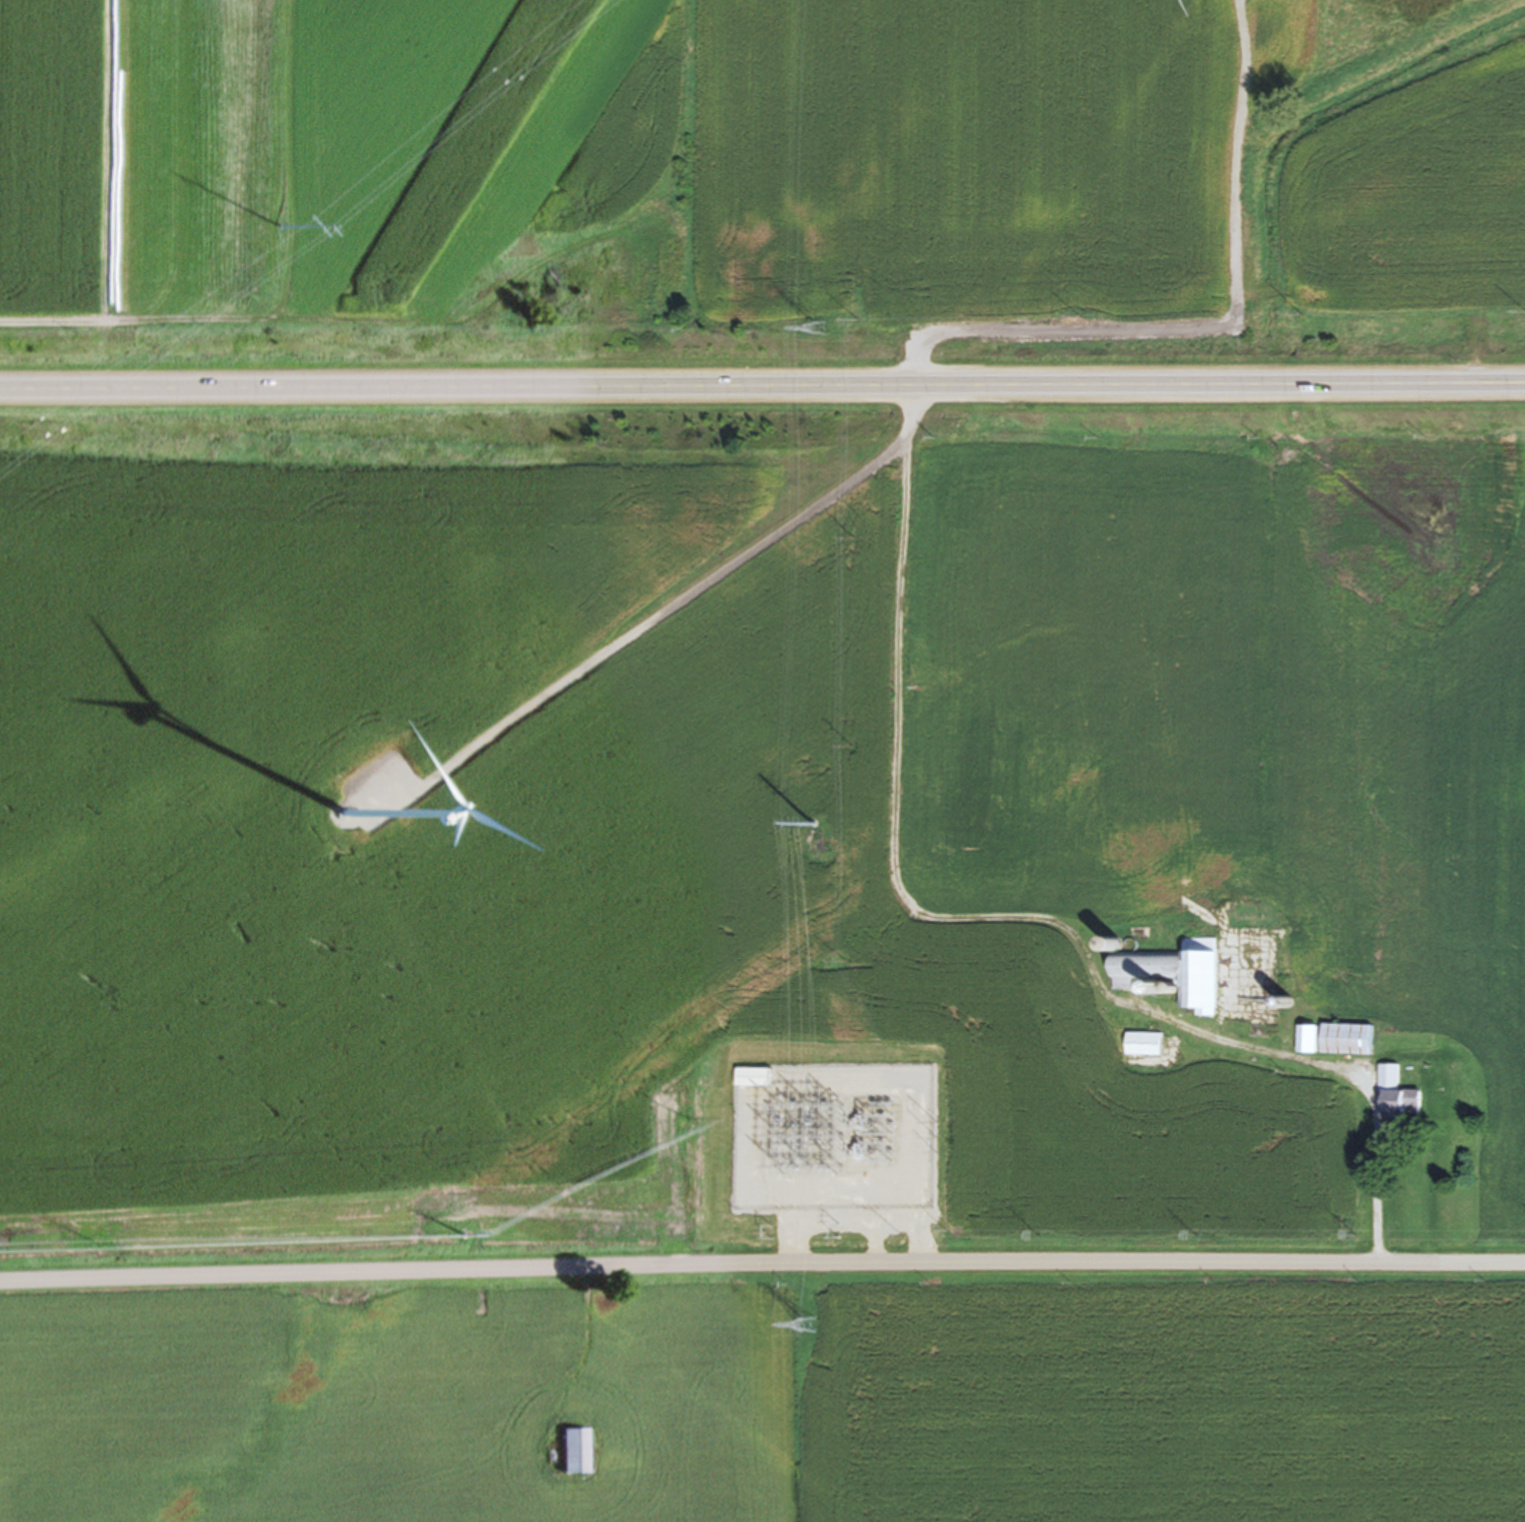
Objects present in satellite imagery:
power tower: (275, 230)
power tower: (812, 330)
road: (762, 389)
road: (908, 402)
wind turbine: (338, 816)
power tower: (813, 843)
road: (1022, 912)
building: (1171, 975)
building: (1302, 1043)
building: (1341, 1043)
building: (1137, 1048)
building: (745, 1081)
building: (1392, 1096)
power substation: (830, 1142)
road: (762, 1266)
power tower: (806, 1330)
building: (568, 1455)

